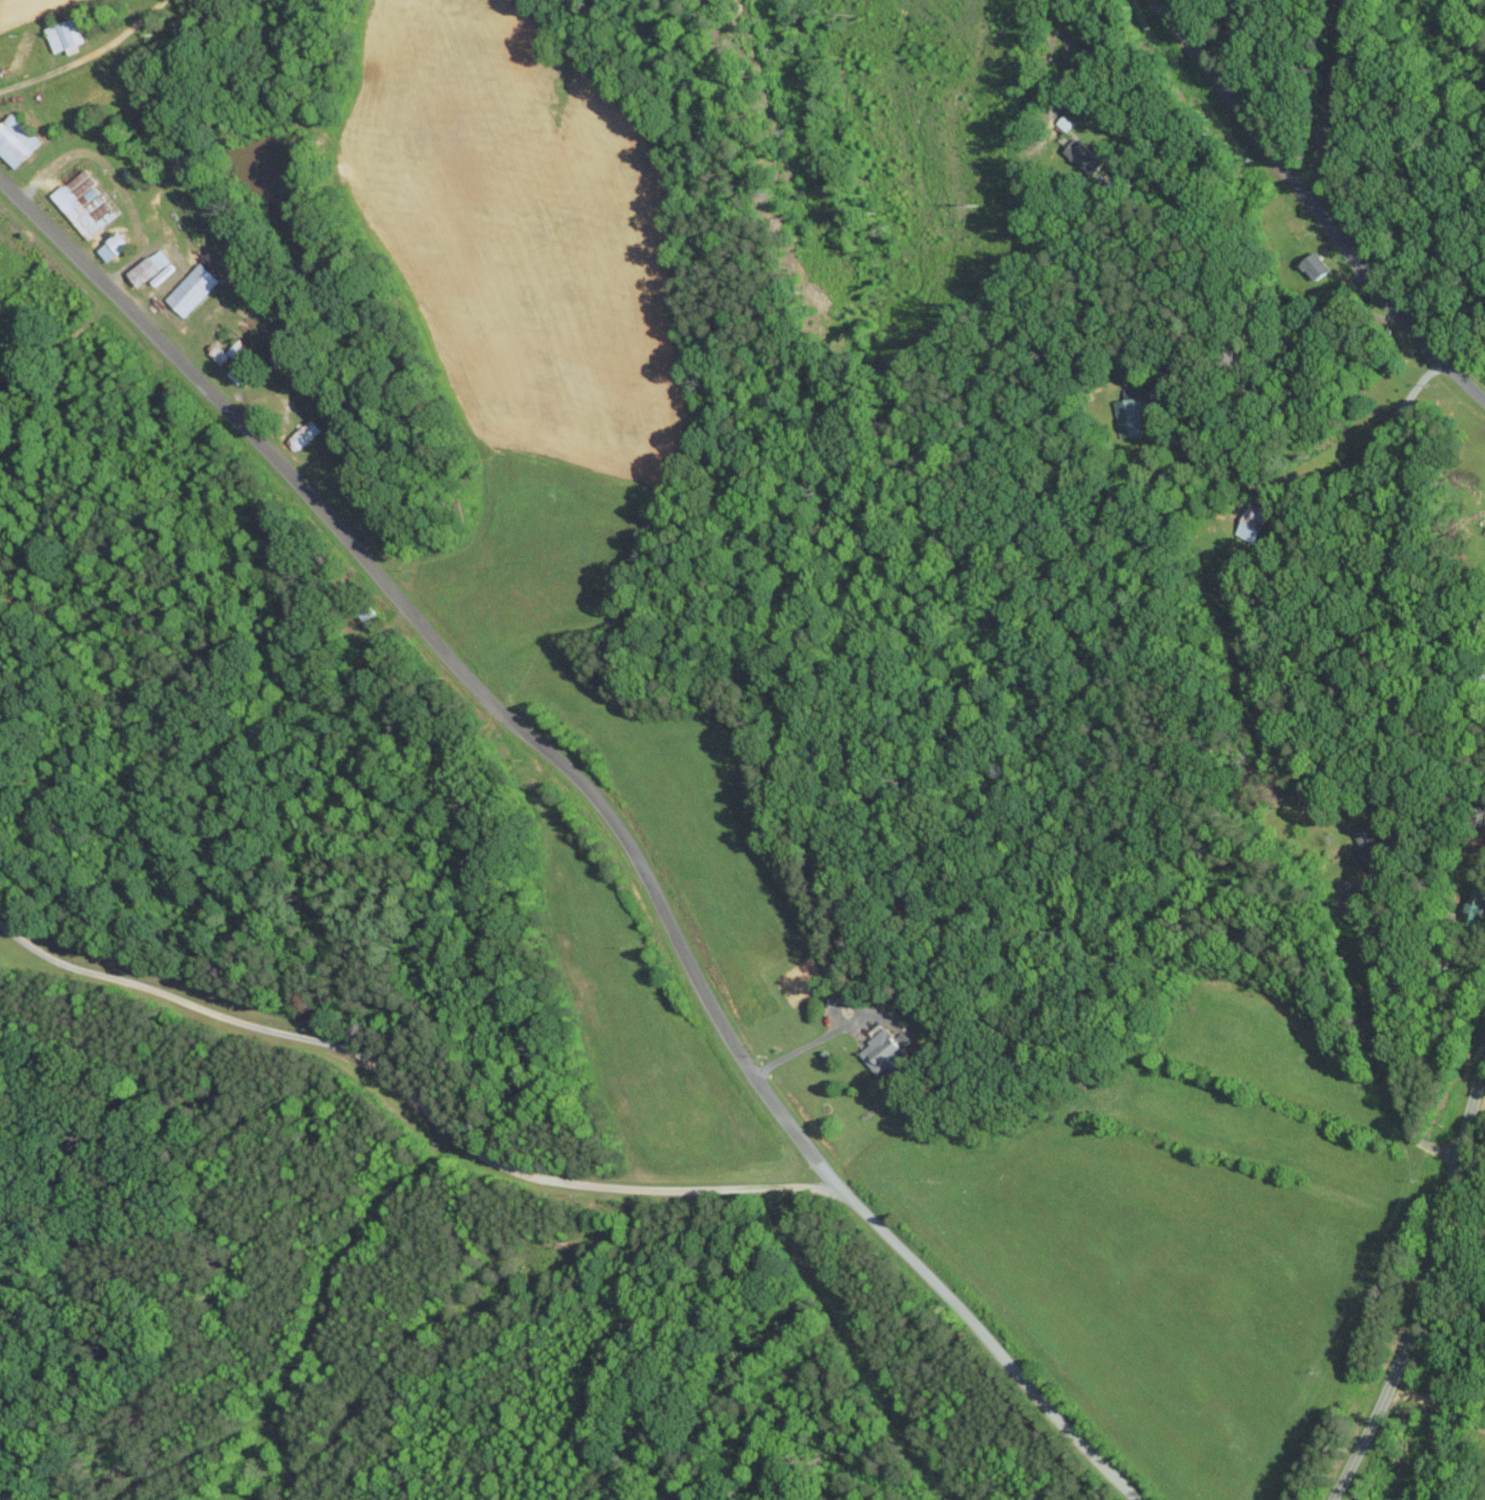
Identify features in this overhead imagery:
road: (1233, 29)
building: (66, 35)
road: (1065, 50)
road: (40, 75)
building: (17, 140)
building: (1083, 153)
building: (86, 204)
road: (1311, 211)
road: (1194, 233)
building: (115, 247)
building: (1316, 266)
building: (150, 267)
building: (194, 289)
building: (242, 352)
building: (1129, 416)
road: (1324, 479)
building: (1251, 521)
road: (598, 811)
building: (1369, 849)
building: (1375, 886)
building: (1476, 902)
road: (1254, 964)
road: (803, 1045)
building: (885, 1048)
road: (414, 1099)
road: (1423, 1286)
road: (1451, 1304)
road: (947, 1425)

